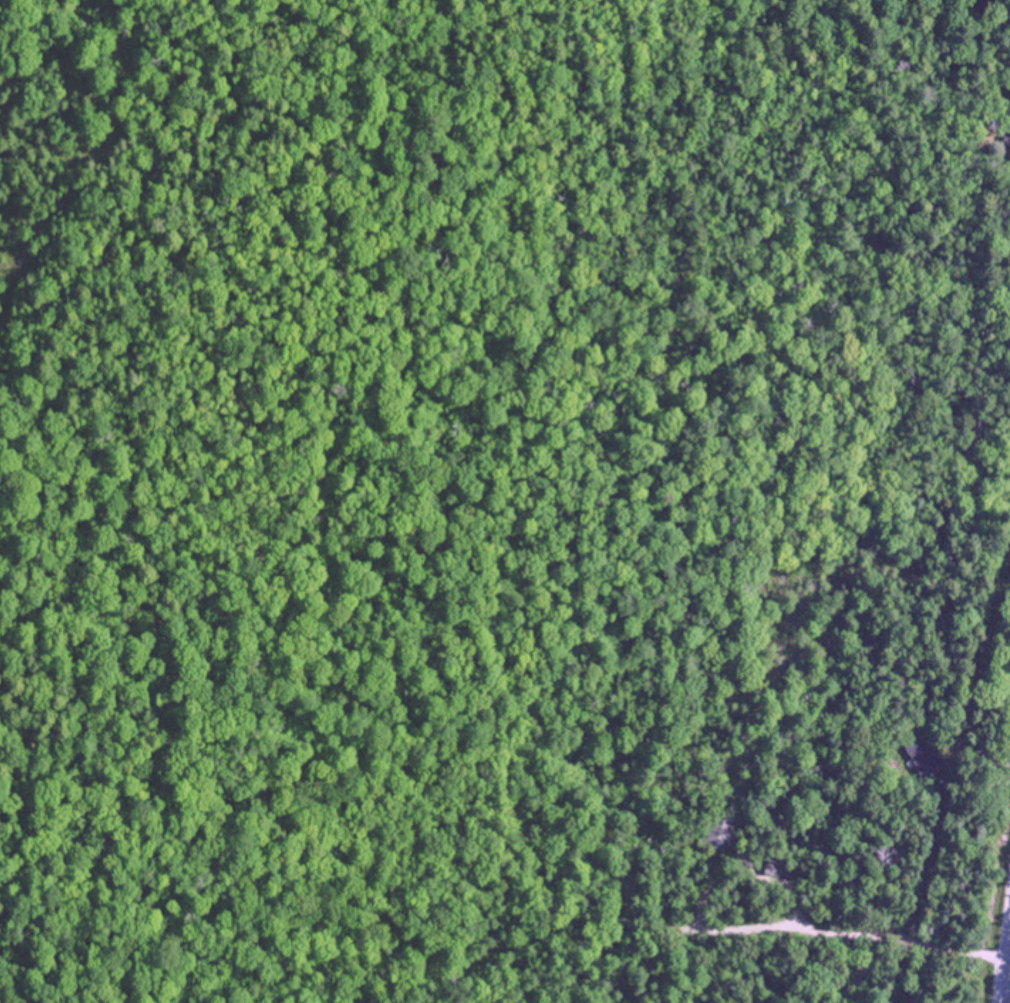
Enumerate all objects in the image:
building: (1008, 139)
building: (922, 752)
building: (719, 831)
building: (774, 867)
road: (861, 931)
road: (857, 968)
road: (1005, 972)

